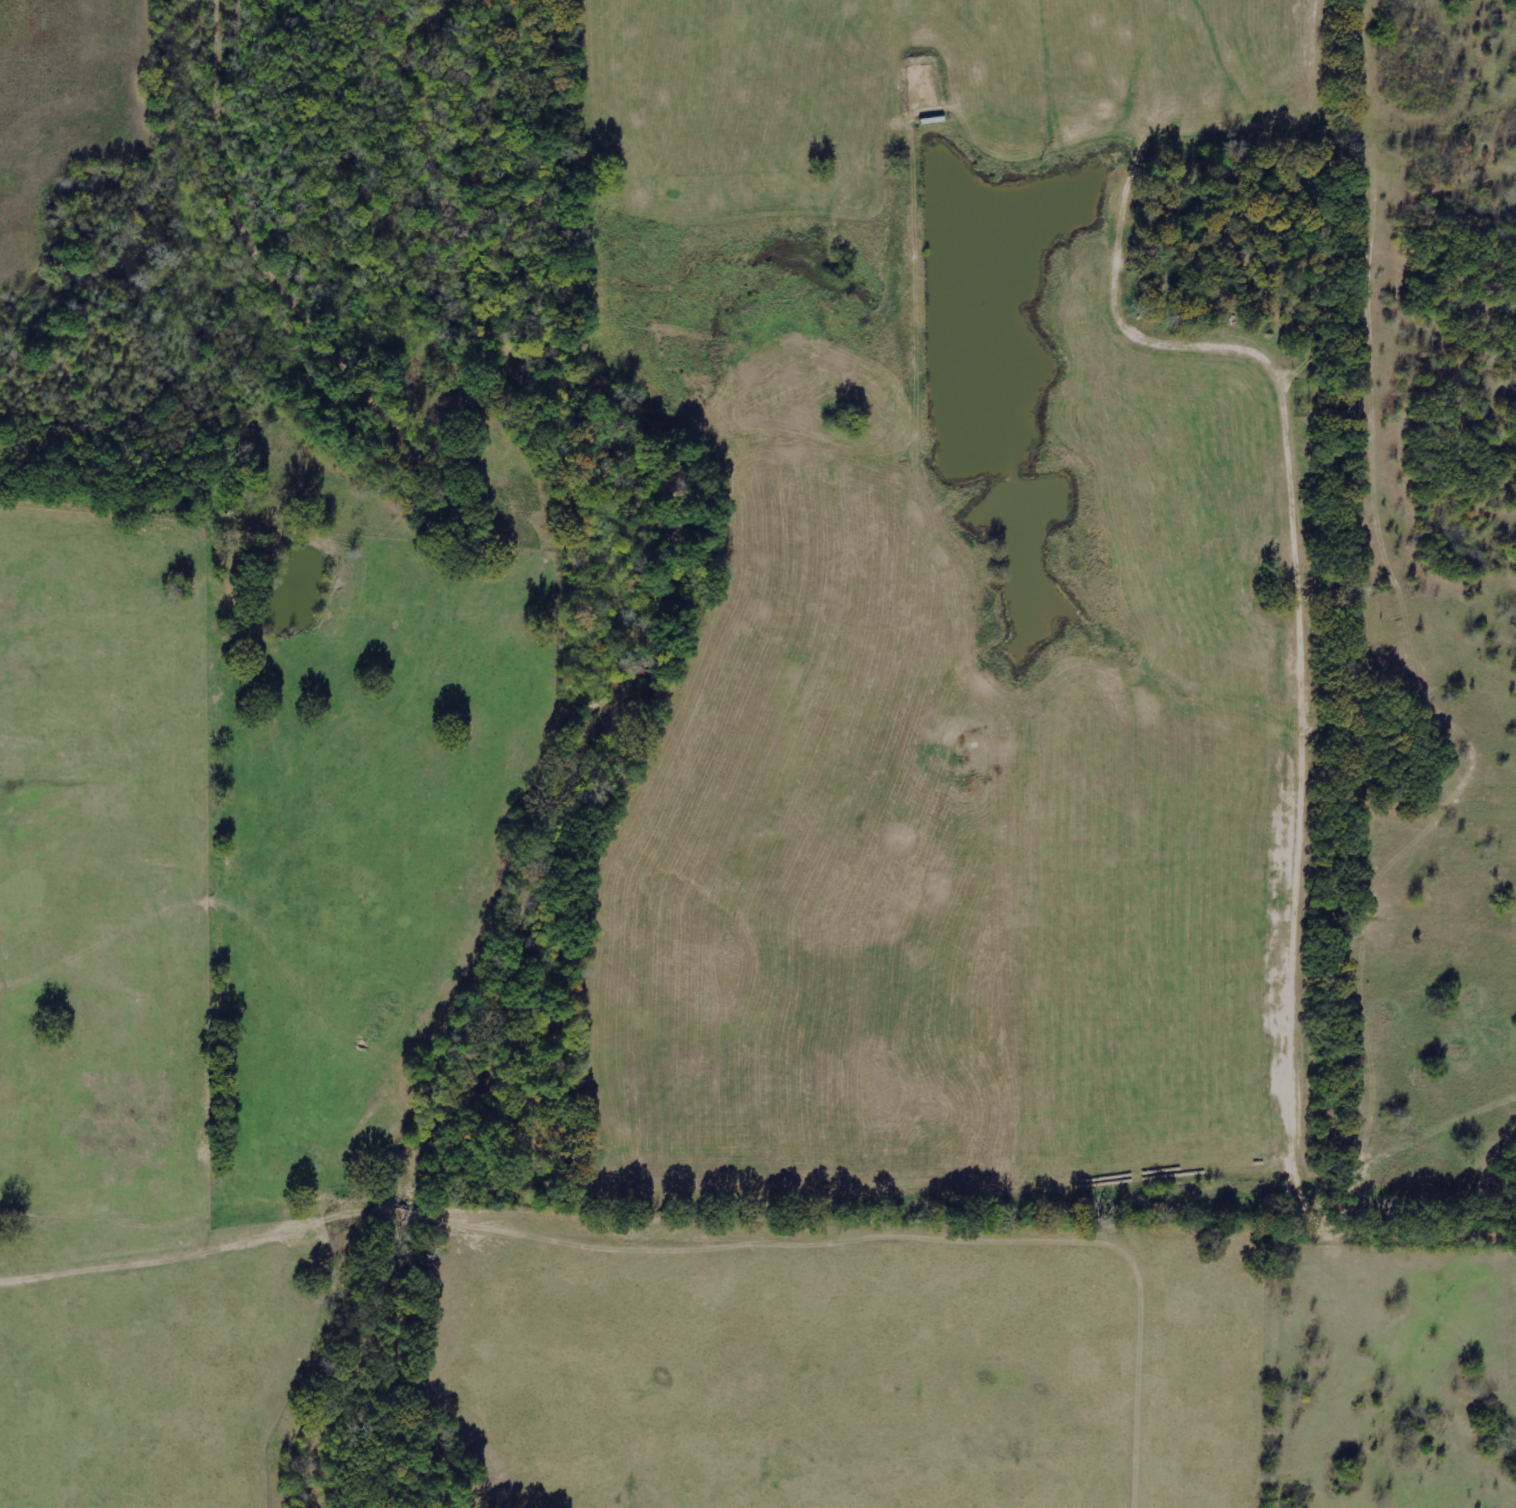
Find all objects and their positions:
road: (1379, 1240)
road: (1463, 1242)

